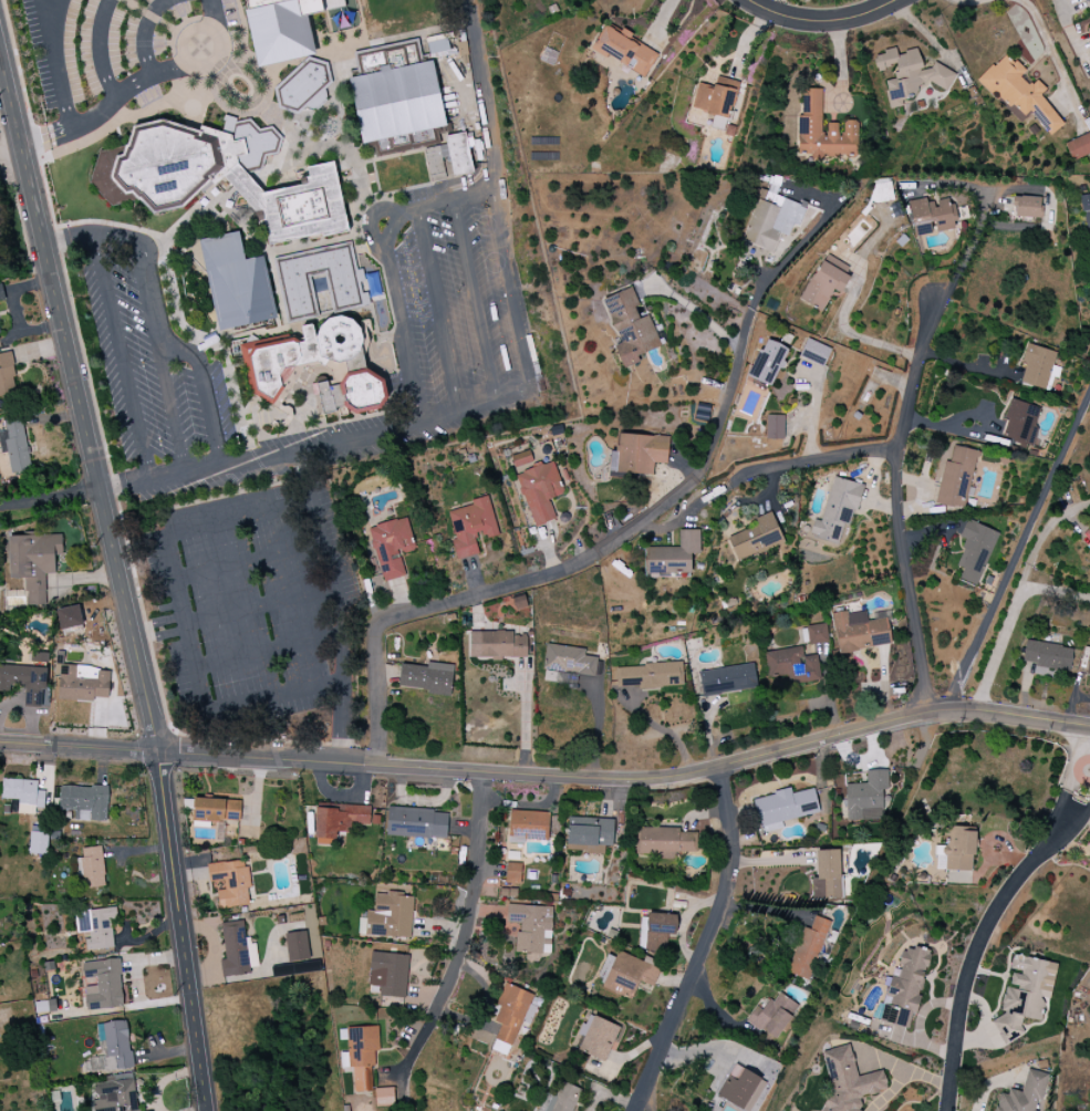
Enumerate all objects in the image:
road: (970, 2)
building: (1086, 4)
park: (374, 20)
road: (821, 22)
building: (283, 28)
road: (1065, 30)
building: (1089, 30)
building: (437, 46)
parking lot: (103, 48)
building: (624, 50)
road: (1053, 54)
road: (53, 65)
building: (907, 75)
building: (1019, 94)
road: (126, 95)
building: (716, 97)
building: (396, 104)
road: (487, 116)
building: (842, 127)
building: (1078, 147)
road: (11, 152)
building: (459, 153)
building: (435, 159)
building: (152, 178)
building: (1084, 203)
building: (1026, 207)
road: (411, 211)
building: (932, 216)
road: (370, 218)
building: (762, 228)
road: (69, 239)
parking lot: (0, 249)
road: (965, 259)
building: (826, 281)
building: (236, 283)
building: (347, 289)
road: (512, 292)
building: (1, 293)
road: (475, 303)
road: (439, 311)
parking lot: (460, 312)
road: (699, 314)
building: (630, 328)
road: (405, 335)
road: (862, 339)
road: (156, 343)
building: (814, 352)
building: (298, 354)
road: (122, 357)
building: (768, 362)
building: (1037, 366)
parking lot: (152, 367)
road: (969, 367)
building: (7, 376)
building: (353, 394)
road: (170, 408)
road: (728, 412)
building: (1020, 422)
building: (775, 427)
building: (15, 445)
road: (318, 446)
building: (640, 453)
road: (814, 463)
building: (956, 478)
building: (537, 486)
road: (51, 502)
road: (899, 507)
building: (835, 512)
road: (691, 513)
building: (471, 526)
building: (756, 538)
road: (1045, 542)
building: (392, 547)
road: (1019, 550)
building: (975, 551)
building: (673, 557)
building: (33, 562)
road: (245, 564)
road: (120, 574)
road: (324, 590)
road: (1055, 595)
parking lot: (251, 600)
road: (447, 605)
road: (255, 609)
building: (70, 616)
road: (158, 630)
building: (860, 632)
building: (817, 634)
building: (497, 644)
road: (266, 653)
road: (997, 655)
building: (1048, 655)
building: (568, 665)
building: (791, 665)
building: (1089, 669)
building: (648, 675)
building: (426, 677)
building: (28, 679)
building: (728, 679)
building: (82, 683)
road: (525, 717)
road: (343, 720)
road: (549, 777)
building: (23, 795)
building: (868, 797)
building: (84, 802)
building: (785, 808)
building: (216, 810)
building: (339, 820)
building: (417, 823)
building: (528, 826)
building: (589, 834)
building: (665, 842)
building: (39, 843)
building: (956, 850)
building: (92, 868)
building: (513, 873)
building: (827, 875)
building: (231, 883)
building: (508, 892)
building: (390, 916)
building: (530, 926)
building: (96, 927)
building: (655, 930)
road: (465, 932)
road: (987, 932)
road: (706, 944)
building: (297, 946)
building: (808, 948)
building: (237, 951)
building: (300, 967)
building: (388, 974)
building: (626, 974)
building: (103, 985)
building: (904, 986)
building: (1024, 996)
building: (510, 1016)
building: (772, 1017)
building: (599, 1038)
building: (361, 1056)
road: (909, 1077)
building: (848, 1081)
building: (738, 1088)
building: (115, 1093)
building: (1022, 1094)
building: (384, 1097)
building: (561, 1099)

